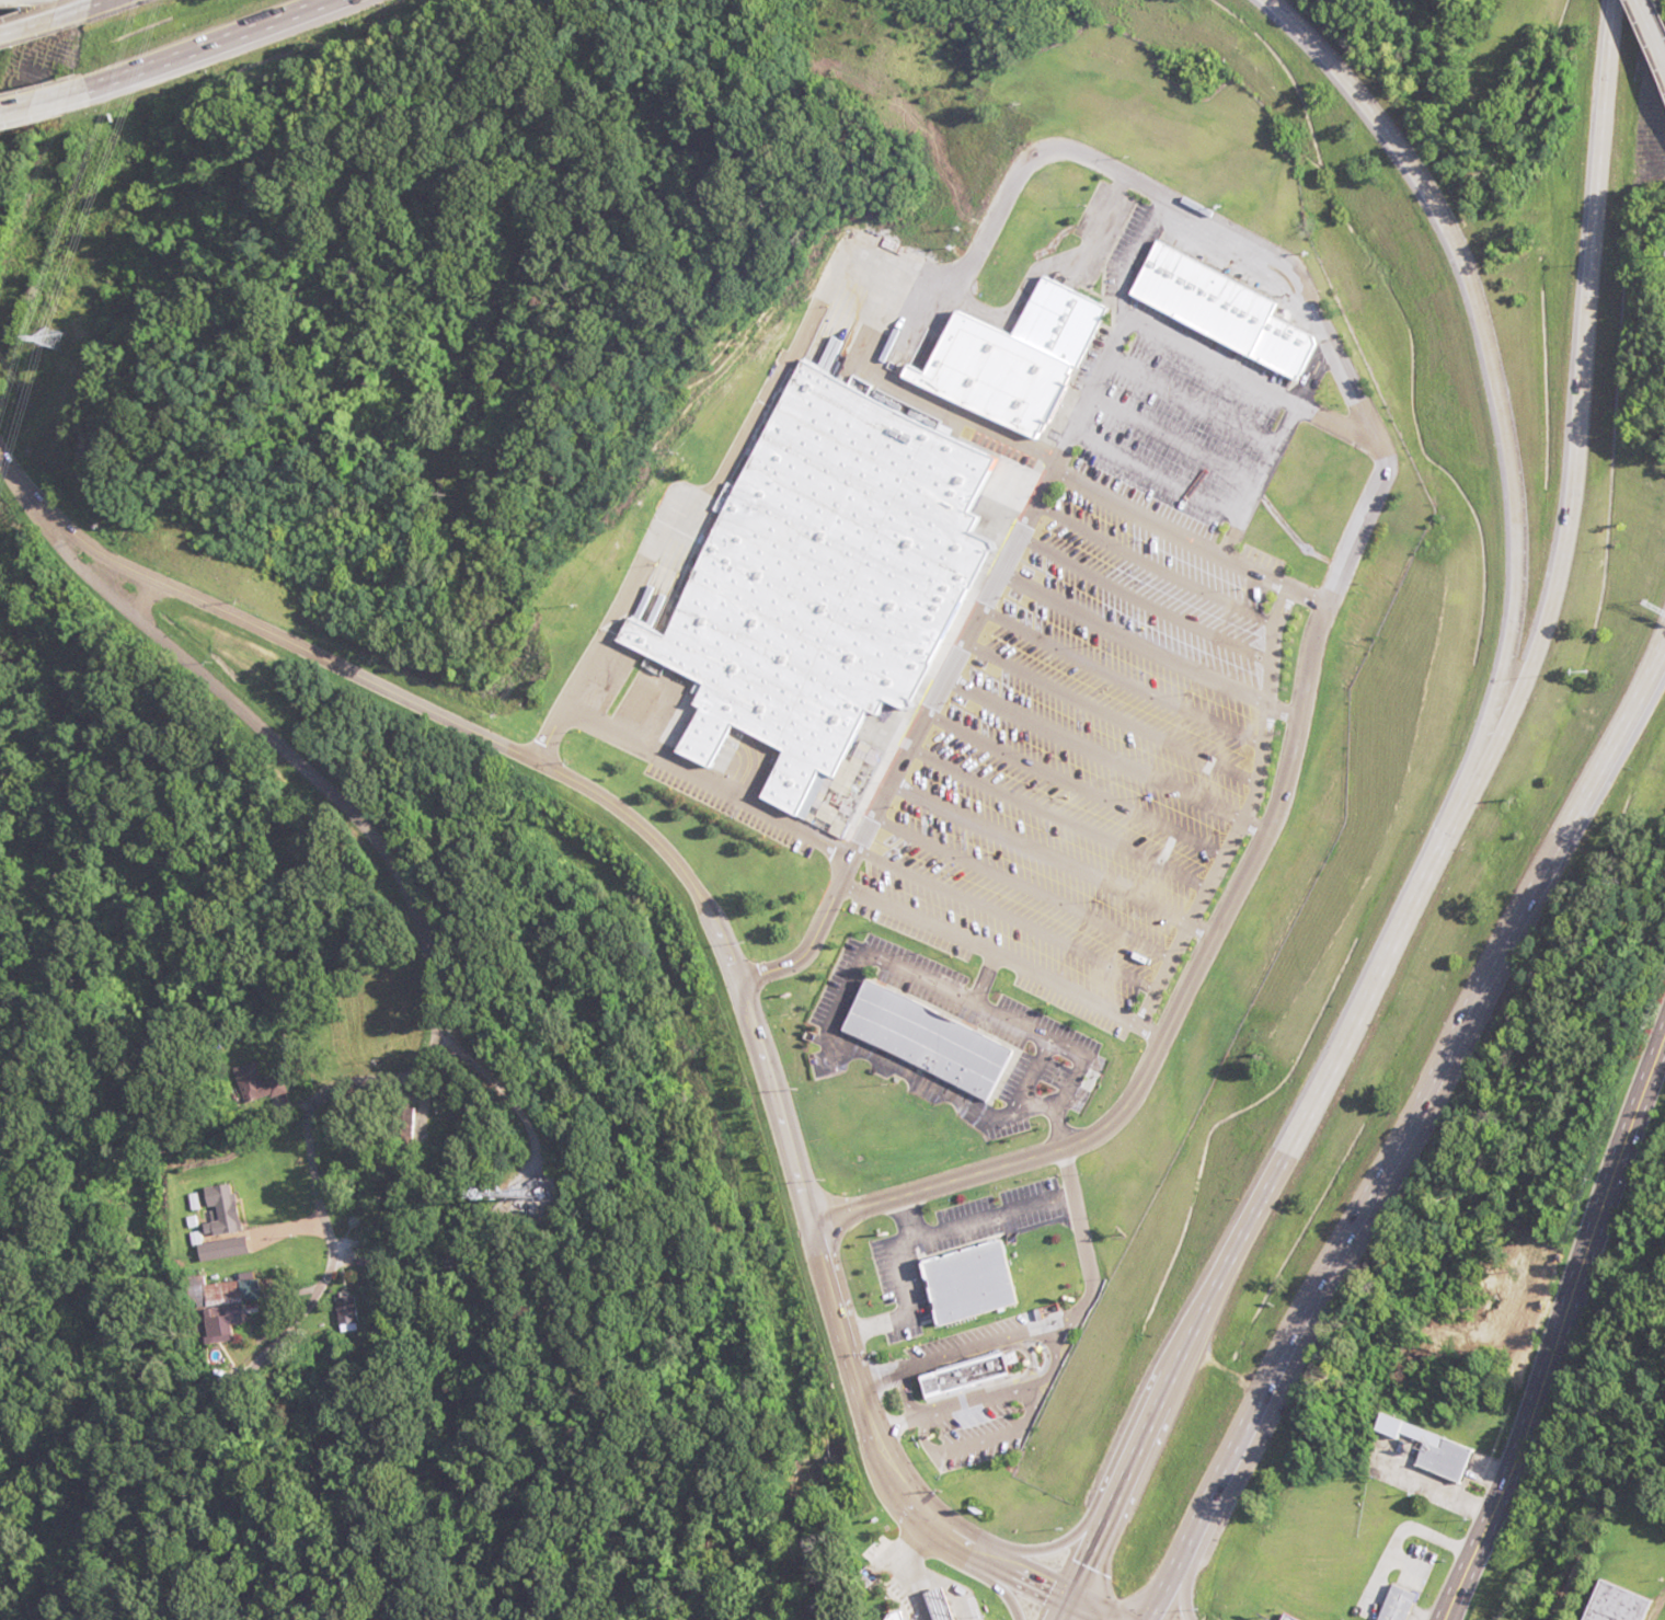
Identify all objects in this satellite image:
road: (105, 5)
road: (46, 26)
road: (1650, 36)
road: (205, 44)
road: (47, 103)
building: (1217, 297)
power tower: (60, 337)
building: (1008, 346)
road: (1503, 393)
road: (1192, 394)
road: (1172, 433)
road: (1576, 438)
road: (1156, 468)
road: (1255, 478)
road: (1165, 525)
road: (1014, 541)
road: (1150, 561)
building: (816, 566)
road: (1139, 597)
road: (1309, 634)
road: (1128, 636)
road: (1653, 654)
road: (1653, 664)
road: (1117, 678)
parking lot: (1098, 690)
road: (1105, 709)
road: (1272, 711)
road: (1091, 745)
road: (1073, 781)
road: (1233, 808)
road: (1056, 816)
road: (368, 817)
road: (1245, 824)
road: (1040, 848)
road: (1023, 882)
road: (699, 883)
road: (1006, 917)
road: (1195, 924)
road: (989, 952)
building: (930, 1041)
road: (1319, 1083)
road: (1392, 1152)
building: (231, 1208)
building: (232, 1248)
building: (979, 1282)
building: (226, 1294)
building: (352, 1312)
road: (1560, 1341)
building: (977, 1376)
building: (1413, 1447)
road: (1138, 1458)
building: (1389, 1604)
building: (1611, 1604)
road: (1065, 1610)
road: (1087, 1610)
building: (1276, 1617)

